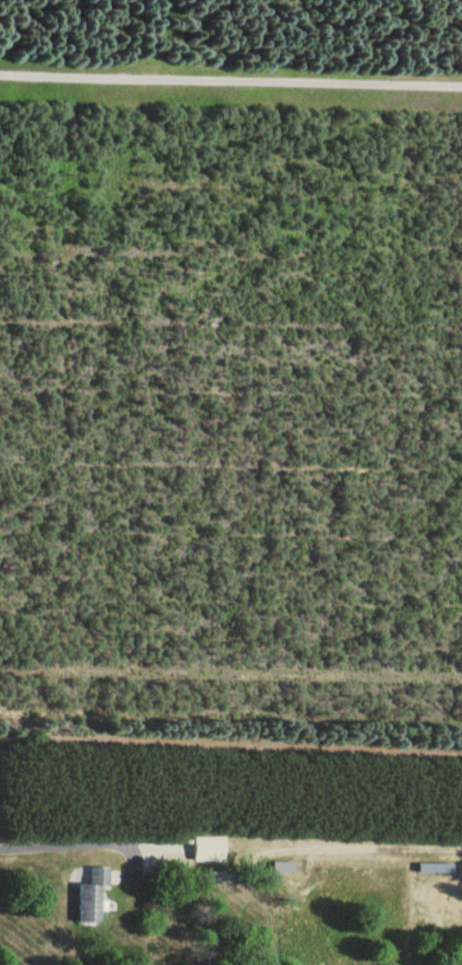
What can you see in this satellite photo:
road: (66, 844)
building: (209, 847)
road: (156, 848)
road: (134, 867)
road: (115, 874)
building: (93, 893)

